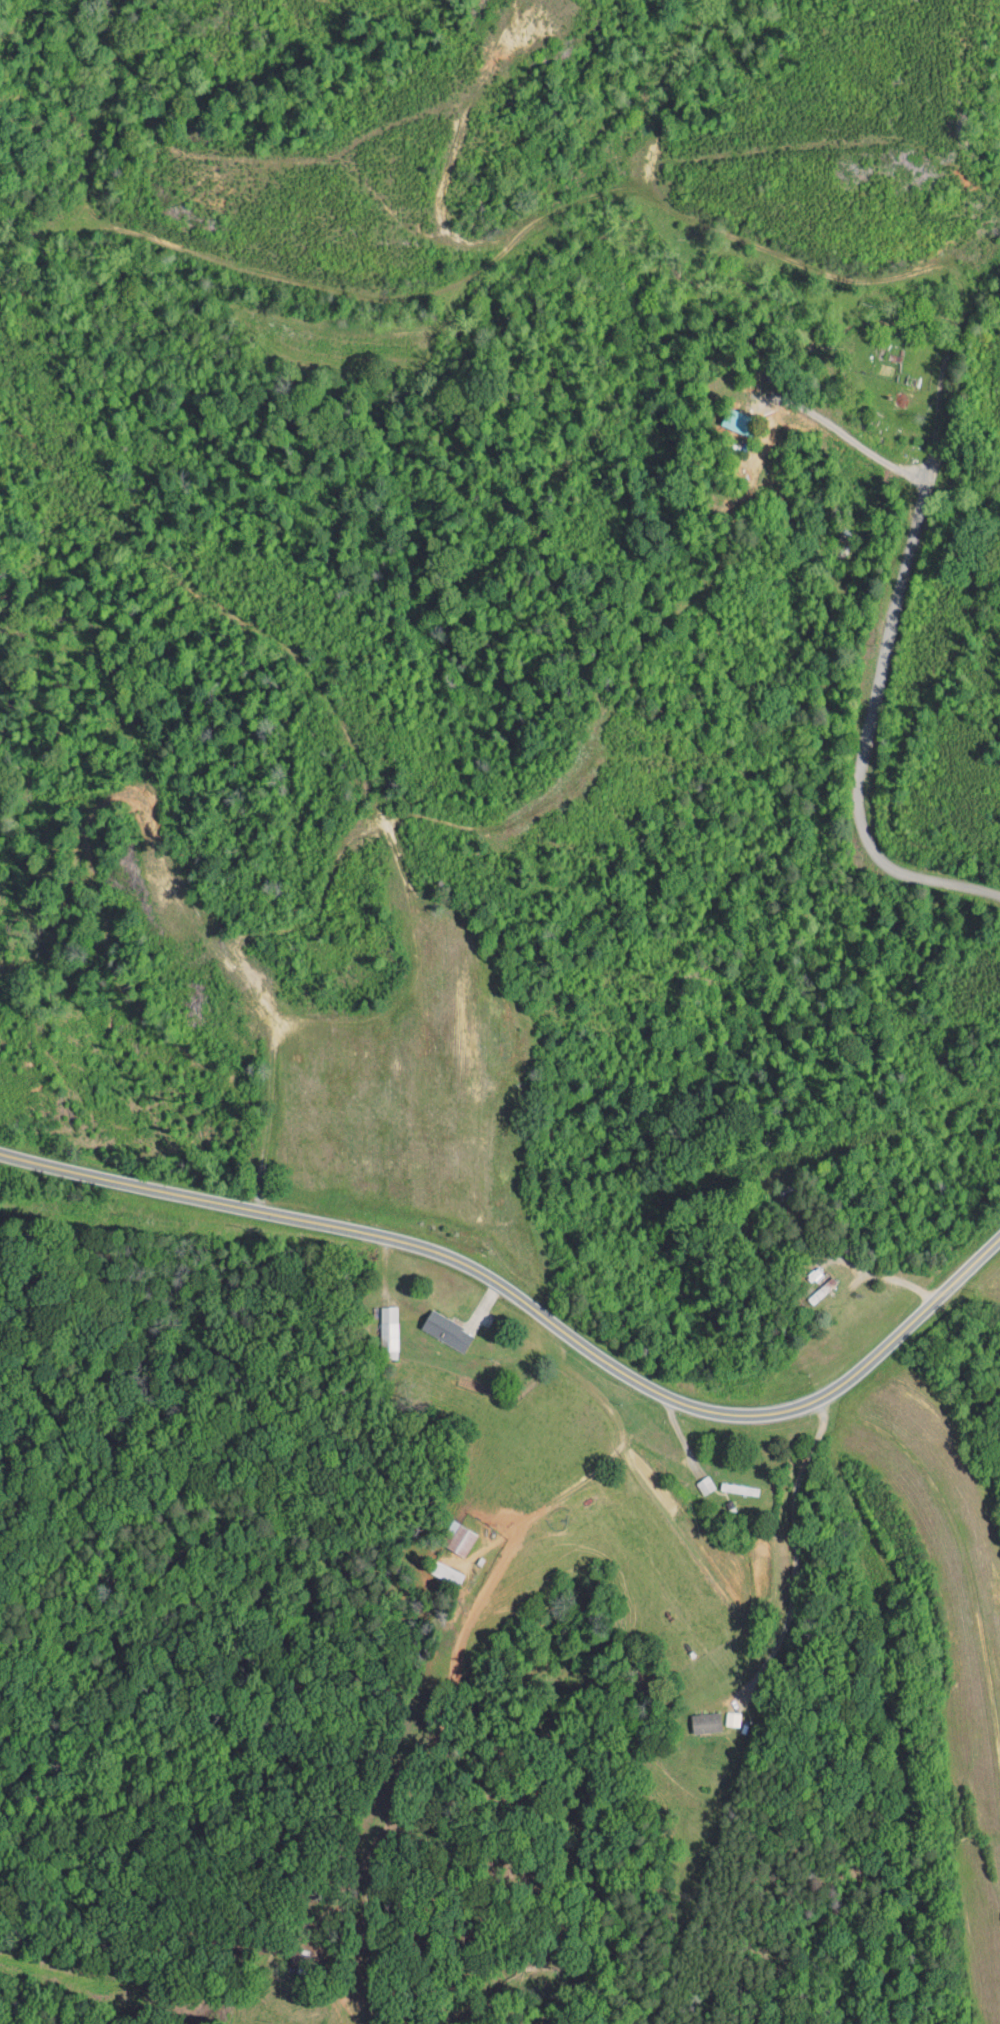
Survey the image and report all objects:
building: (724, 415)
road: (841, 433)
road: (886, 629)
road: (8, 1190)
road: (885, 1277)
road: (535, 1305)
building: (433, 1323)
building: (448, 1532)
road: (794, 1554)
building: (720, 1713)
building: (693, 1716)
road: (342, 2008)

